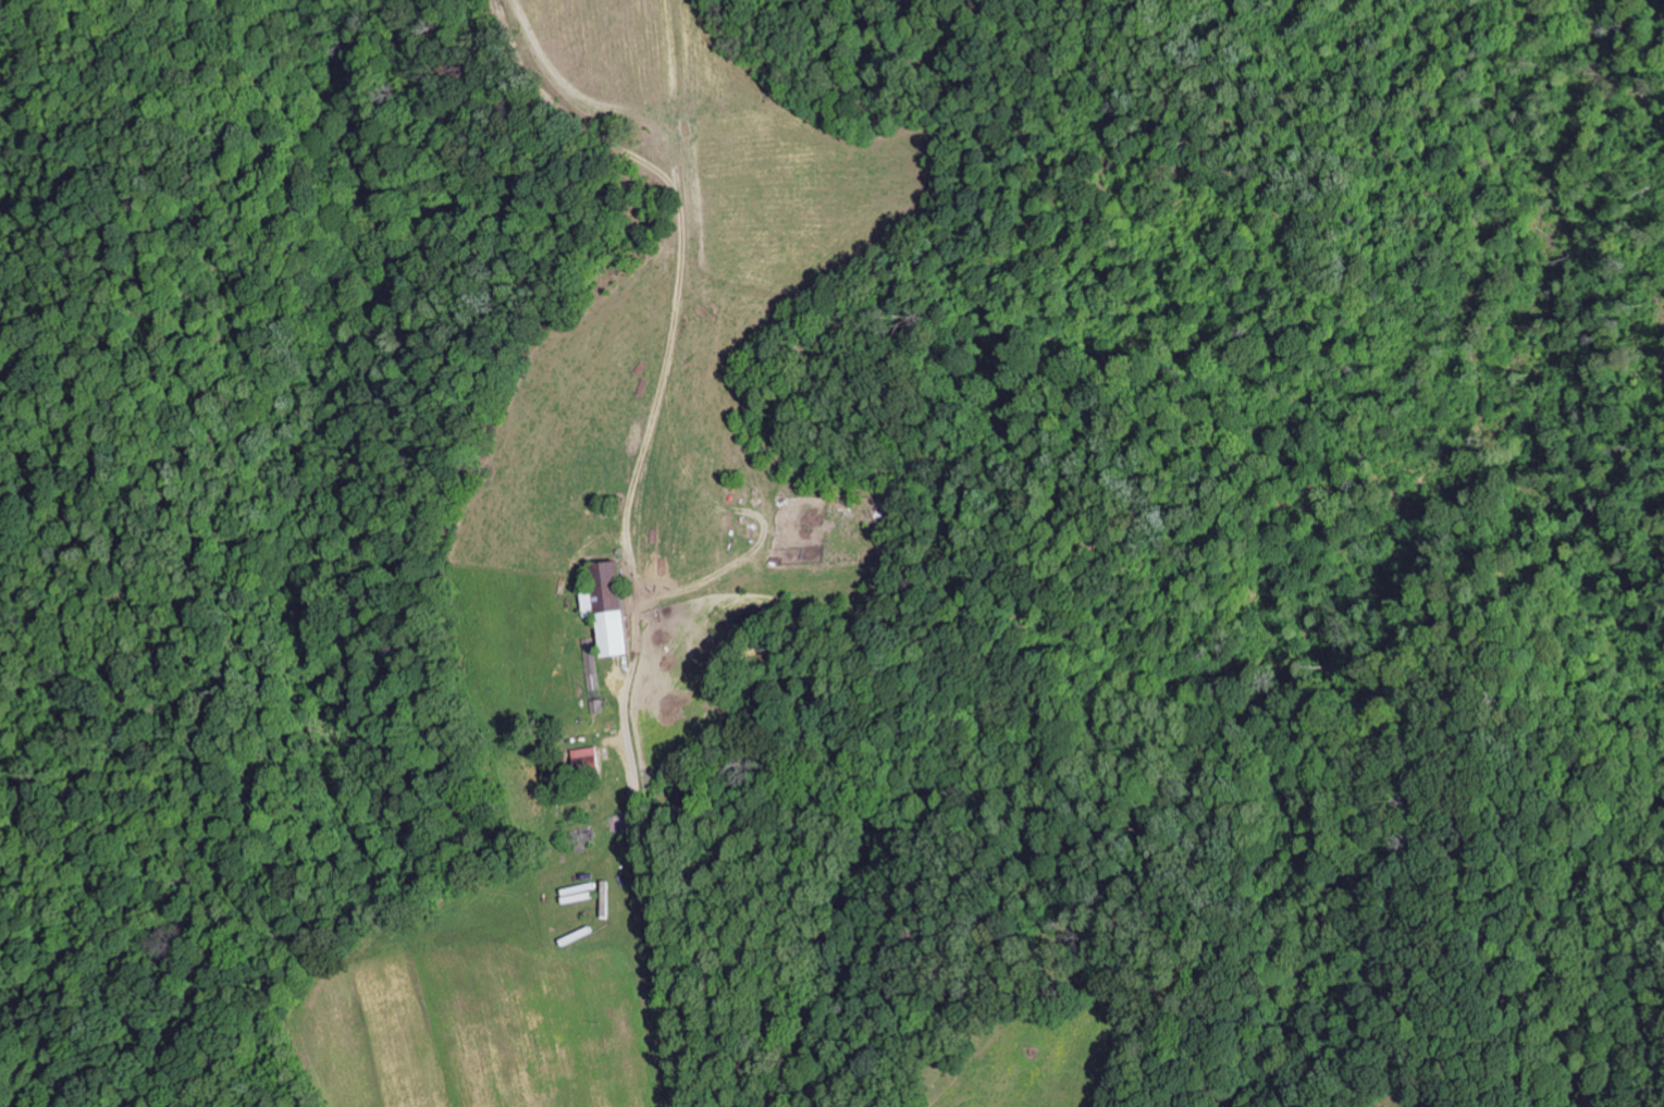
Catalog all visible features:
building: (612, 611)
road: (661, 959)

